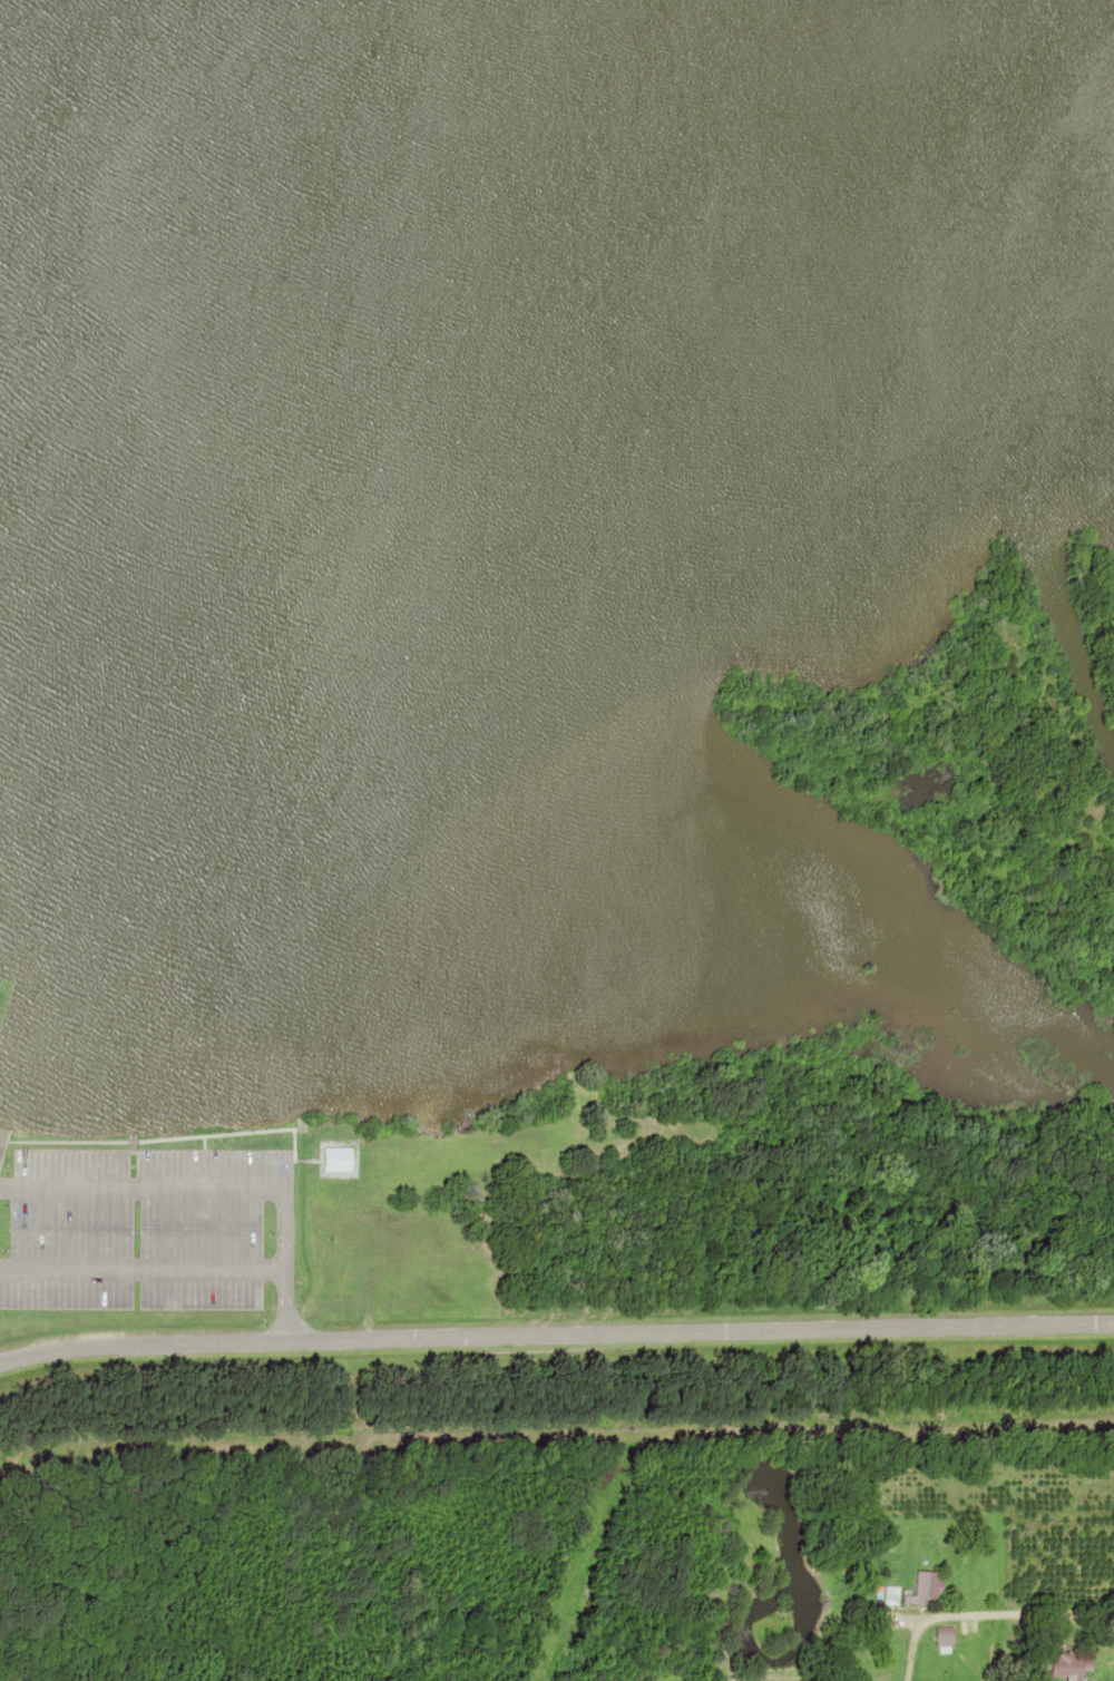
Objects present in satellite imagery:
building: (340, 1159)
road: (555, 1335)
road: (985, 1614)
building: (942, 1640)
building: (1066, 1669)
road: (768, 1679)

